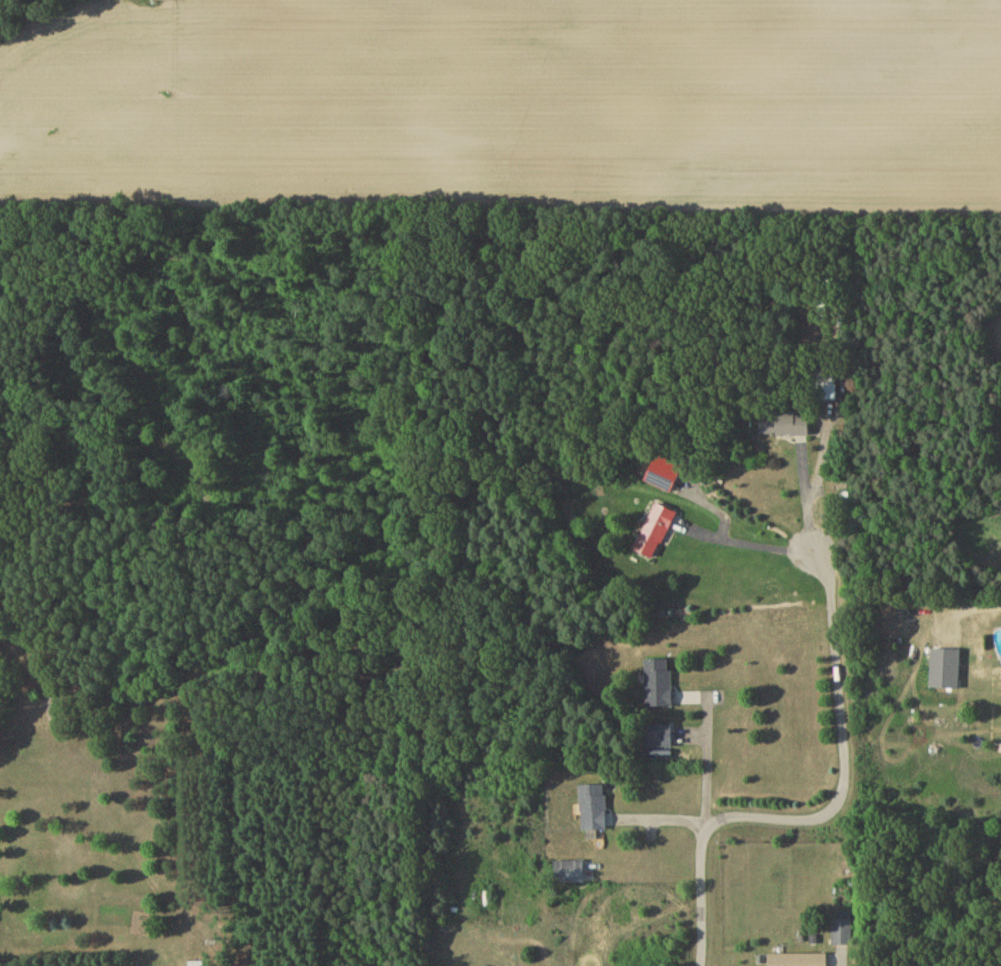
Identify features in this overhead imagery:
road: (41, 17)
building: (830, 391)
building: (785, 426)
building: (664, 479)
road: (804, 498)
building: (656, 533)
road: (750, 545)
building: (946, 671)
building: (660, 685)
building: (657, 738)
road: (707, 772)
building: (594, 810)
road: (835, 811)
building: (570, 874)
building: (843, 934)
building: (799, 961)

